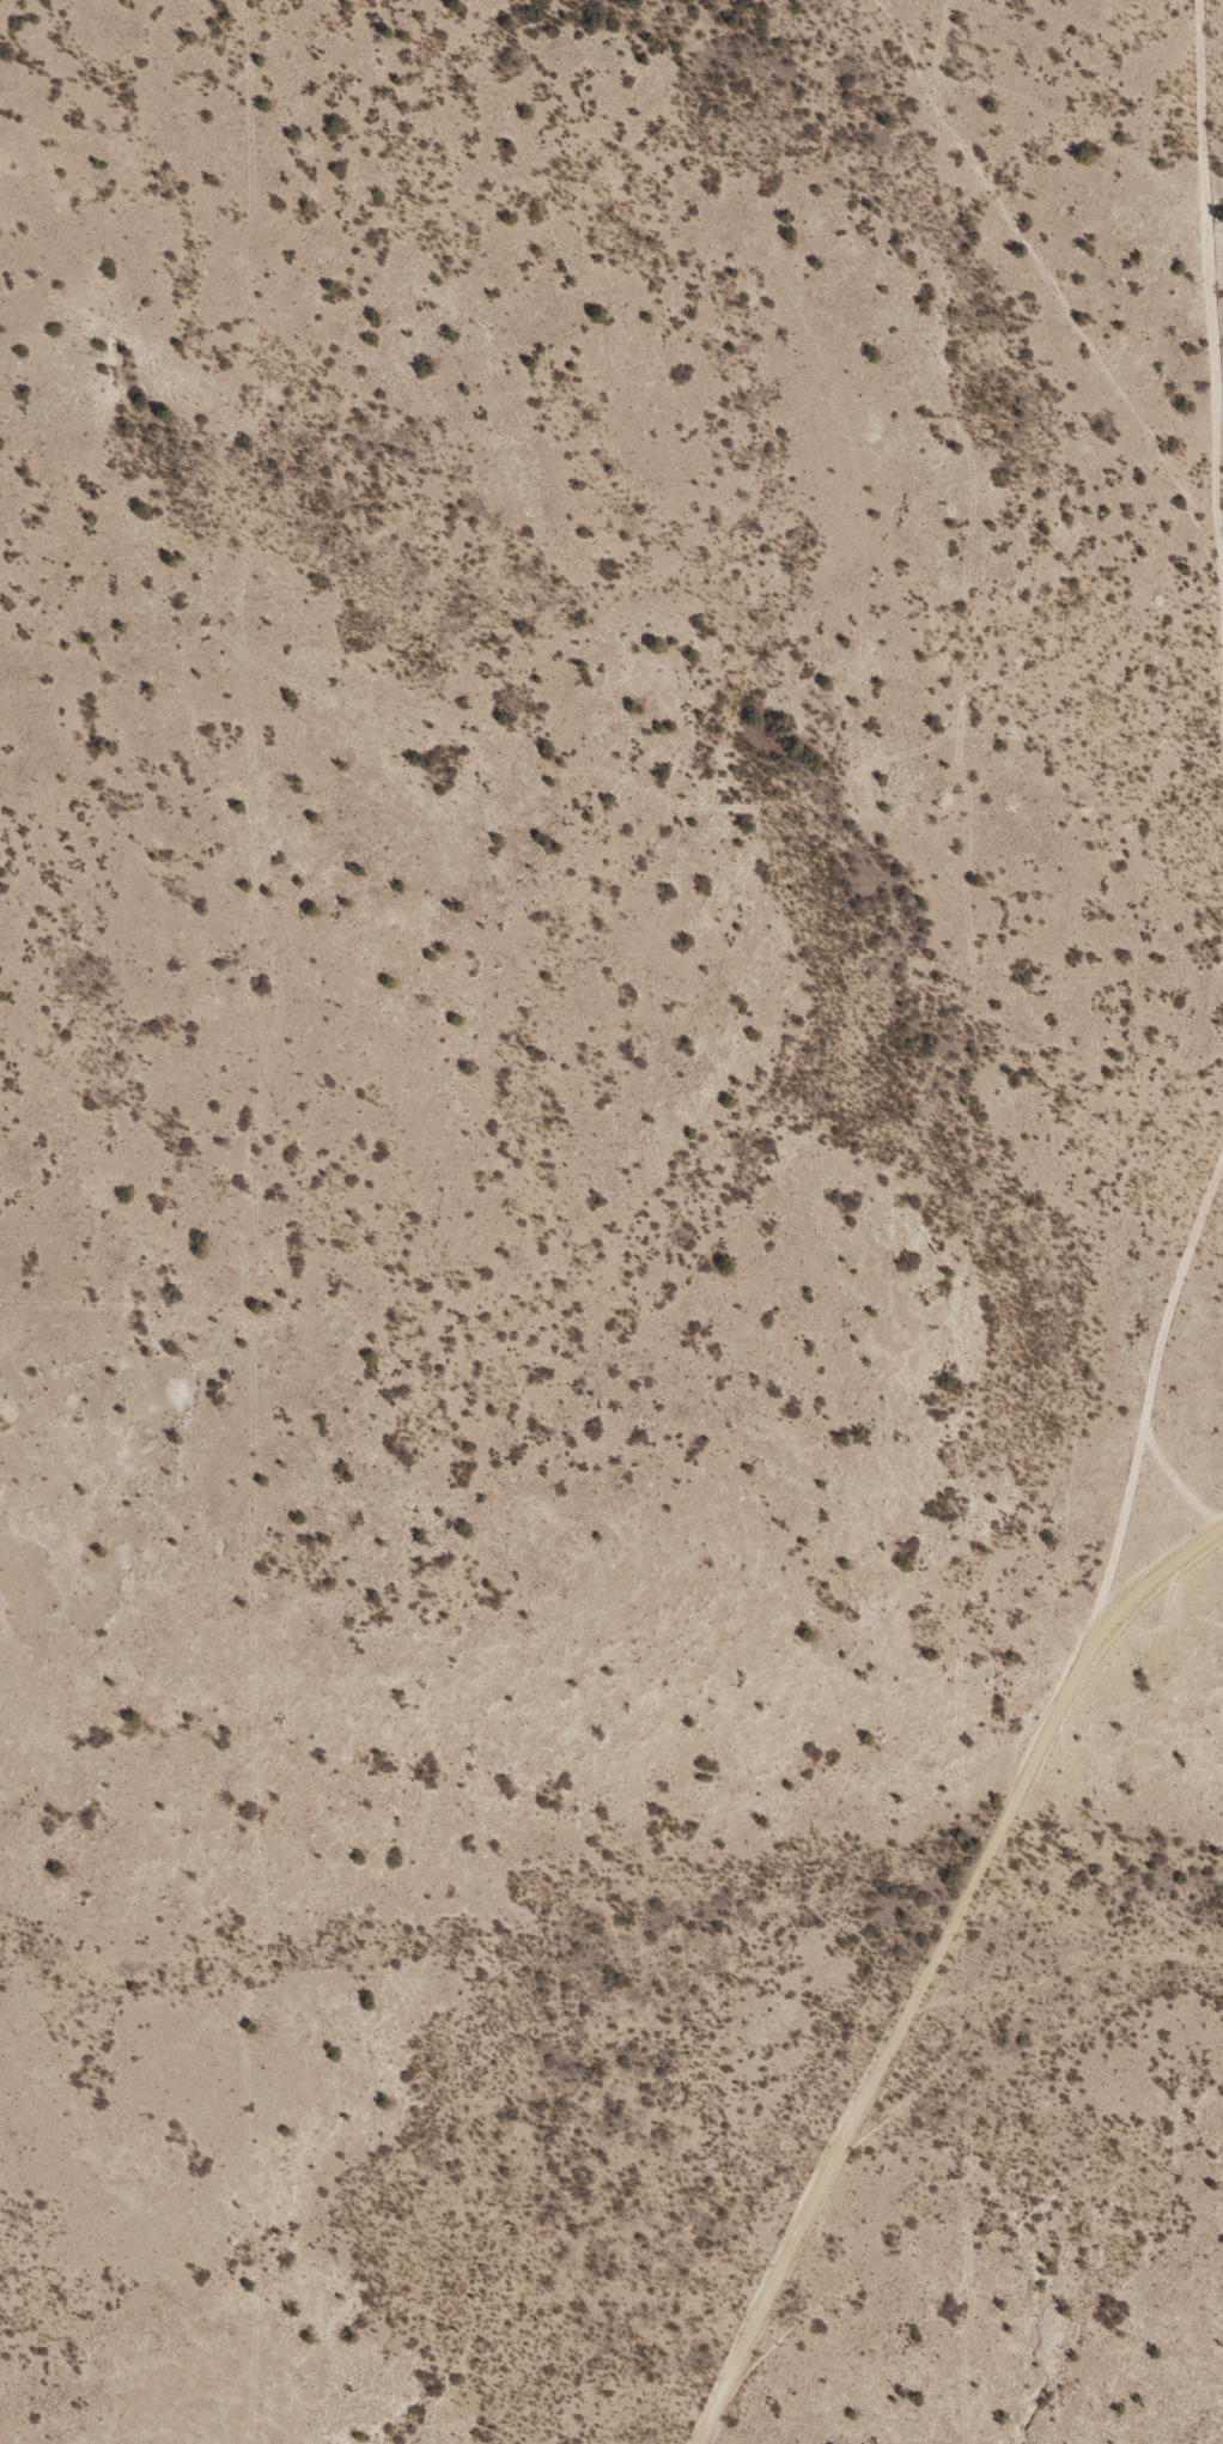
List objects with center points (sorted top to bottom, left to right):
road: (1023, 1829)

